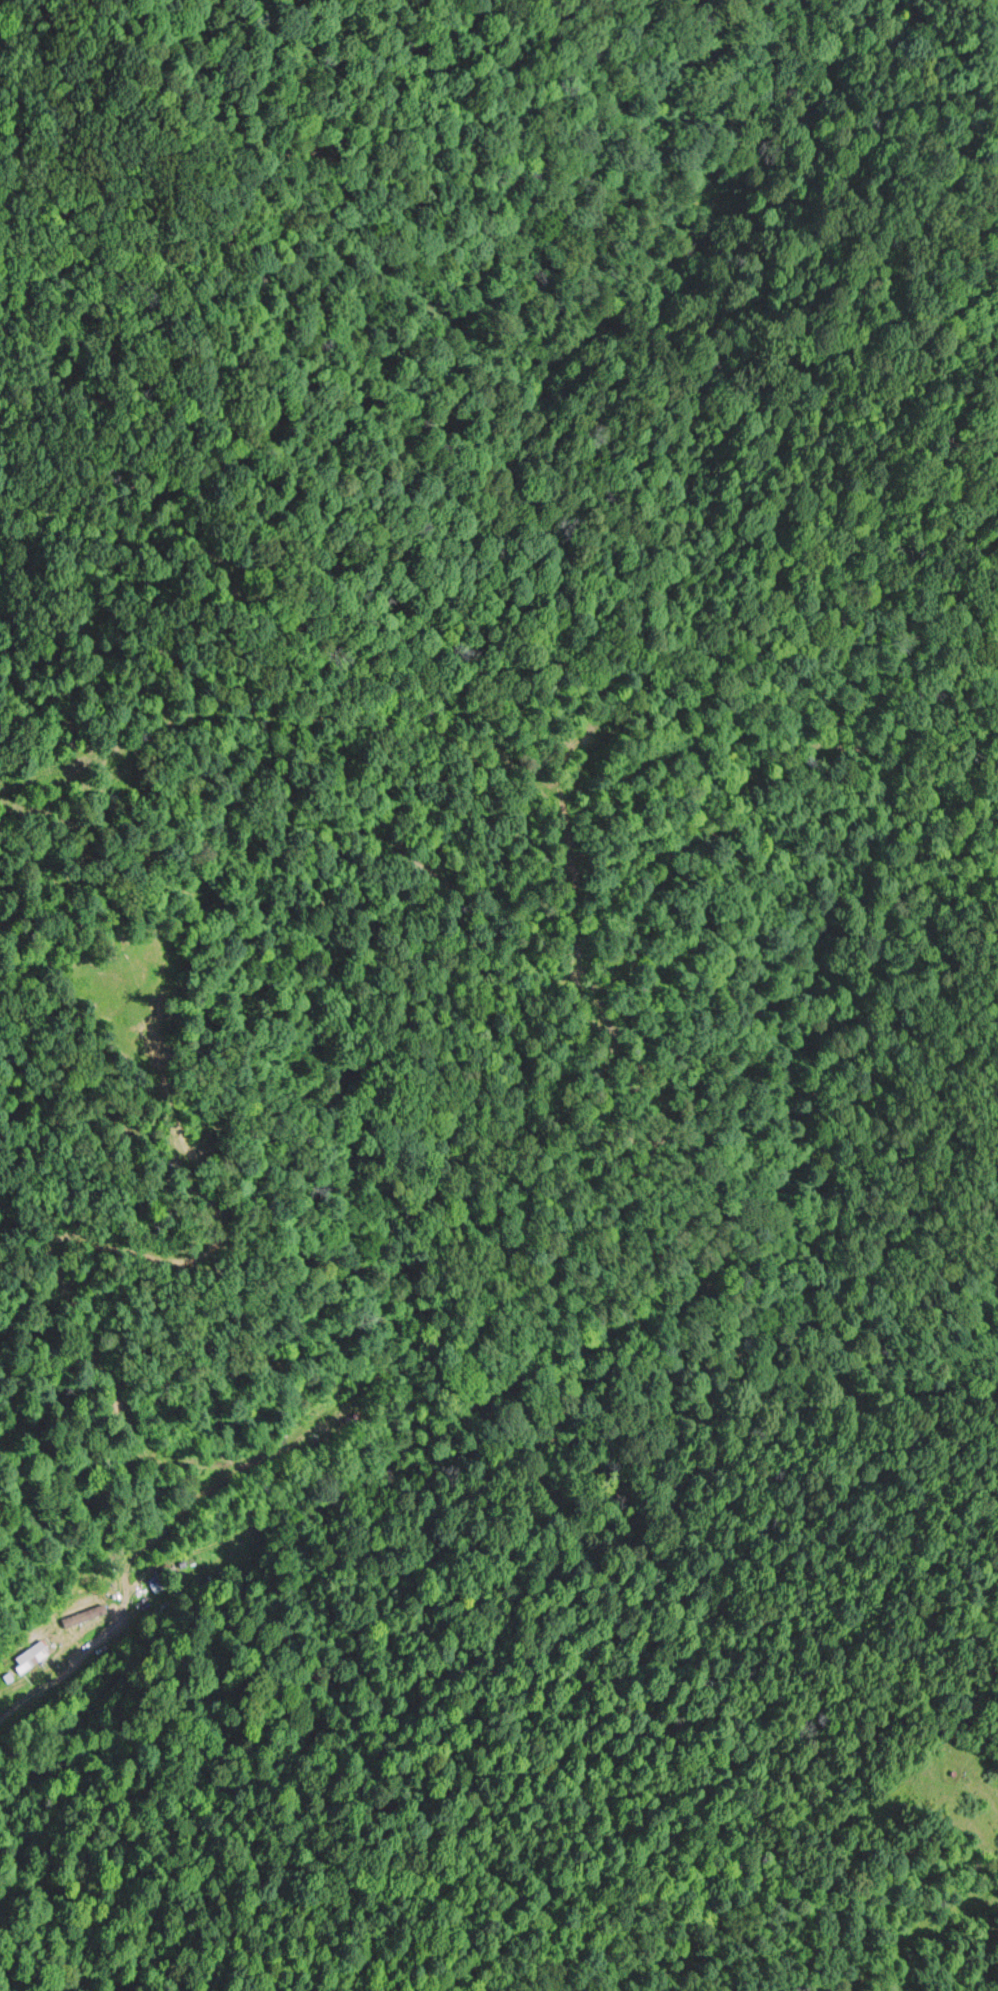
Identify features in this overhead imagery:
building: (83, 1616)
building: (38, 1655)

